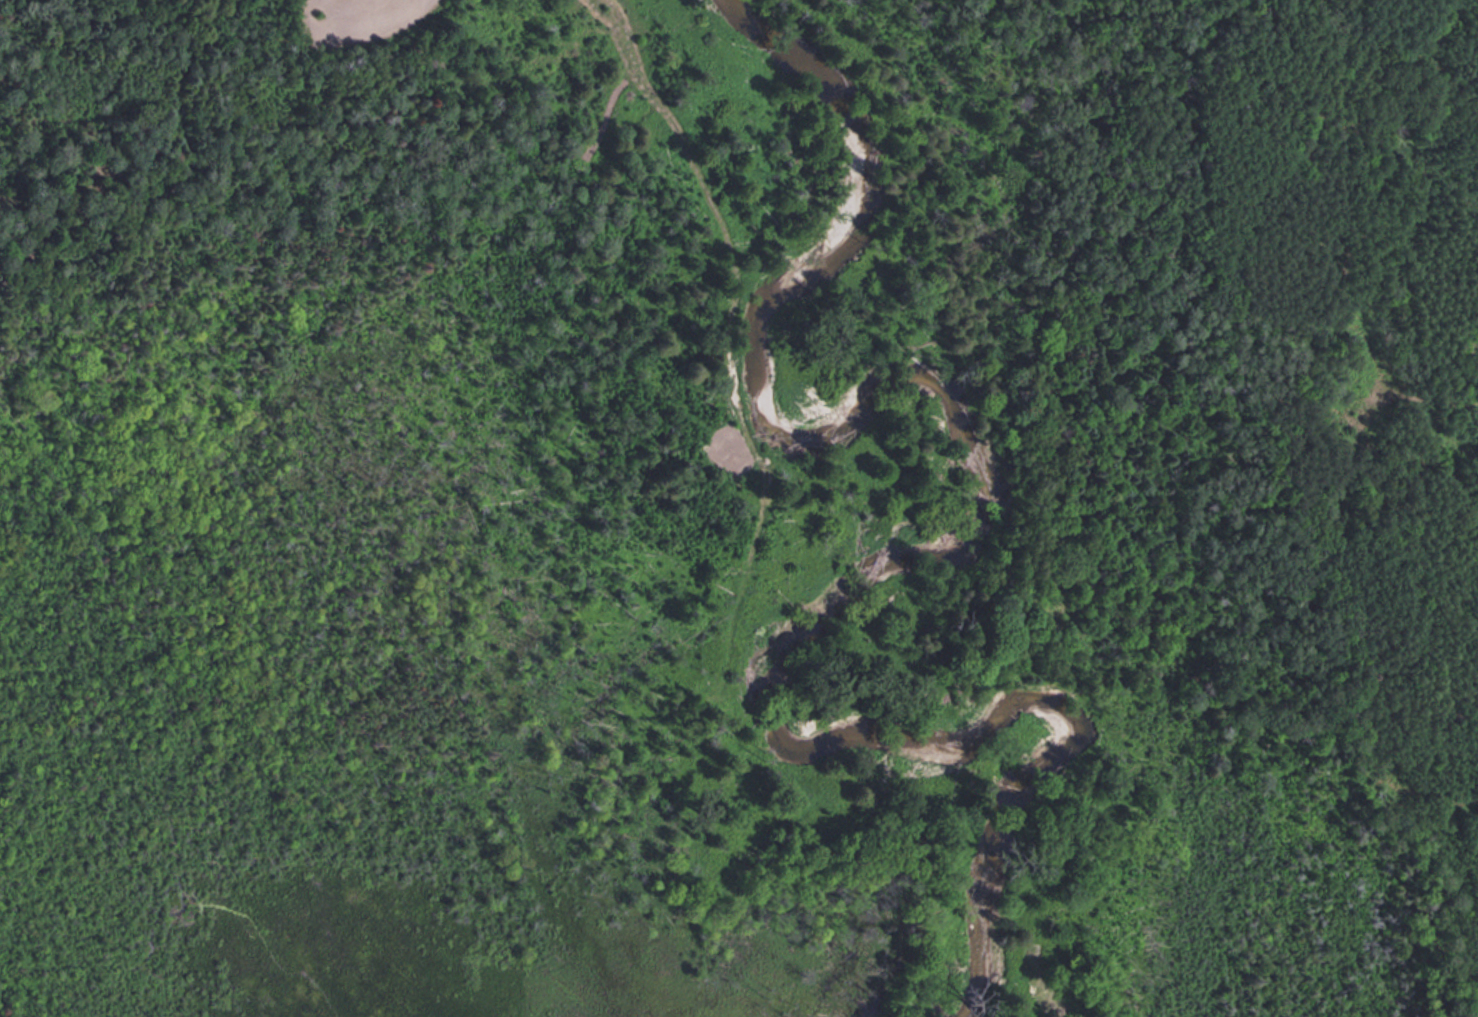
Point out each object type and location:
river: (913, 562)
building: (1060, 715)

